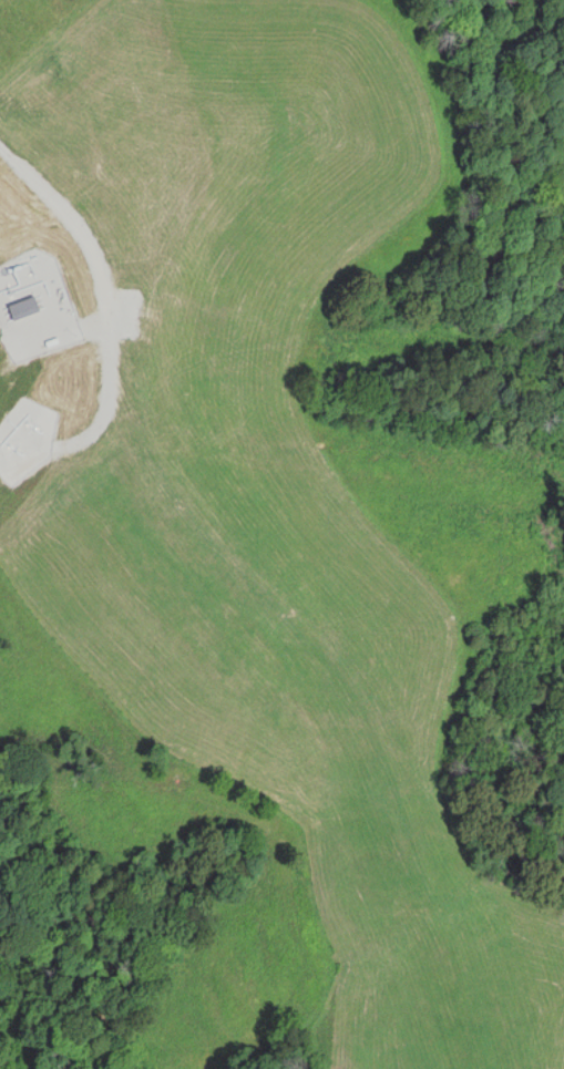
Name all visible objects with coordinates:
road: (107, 319)

